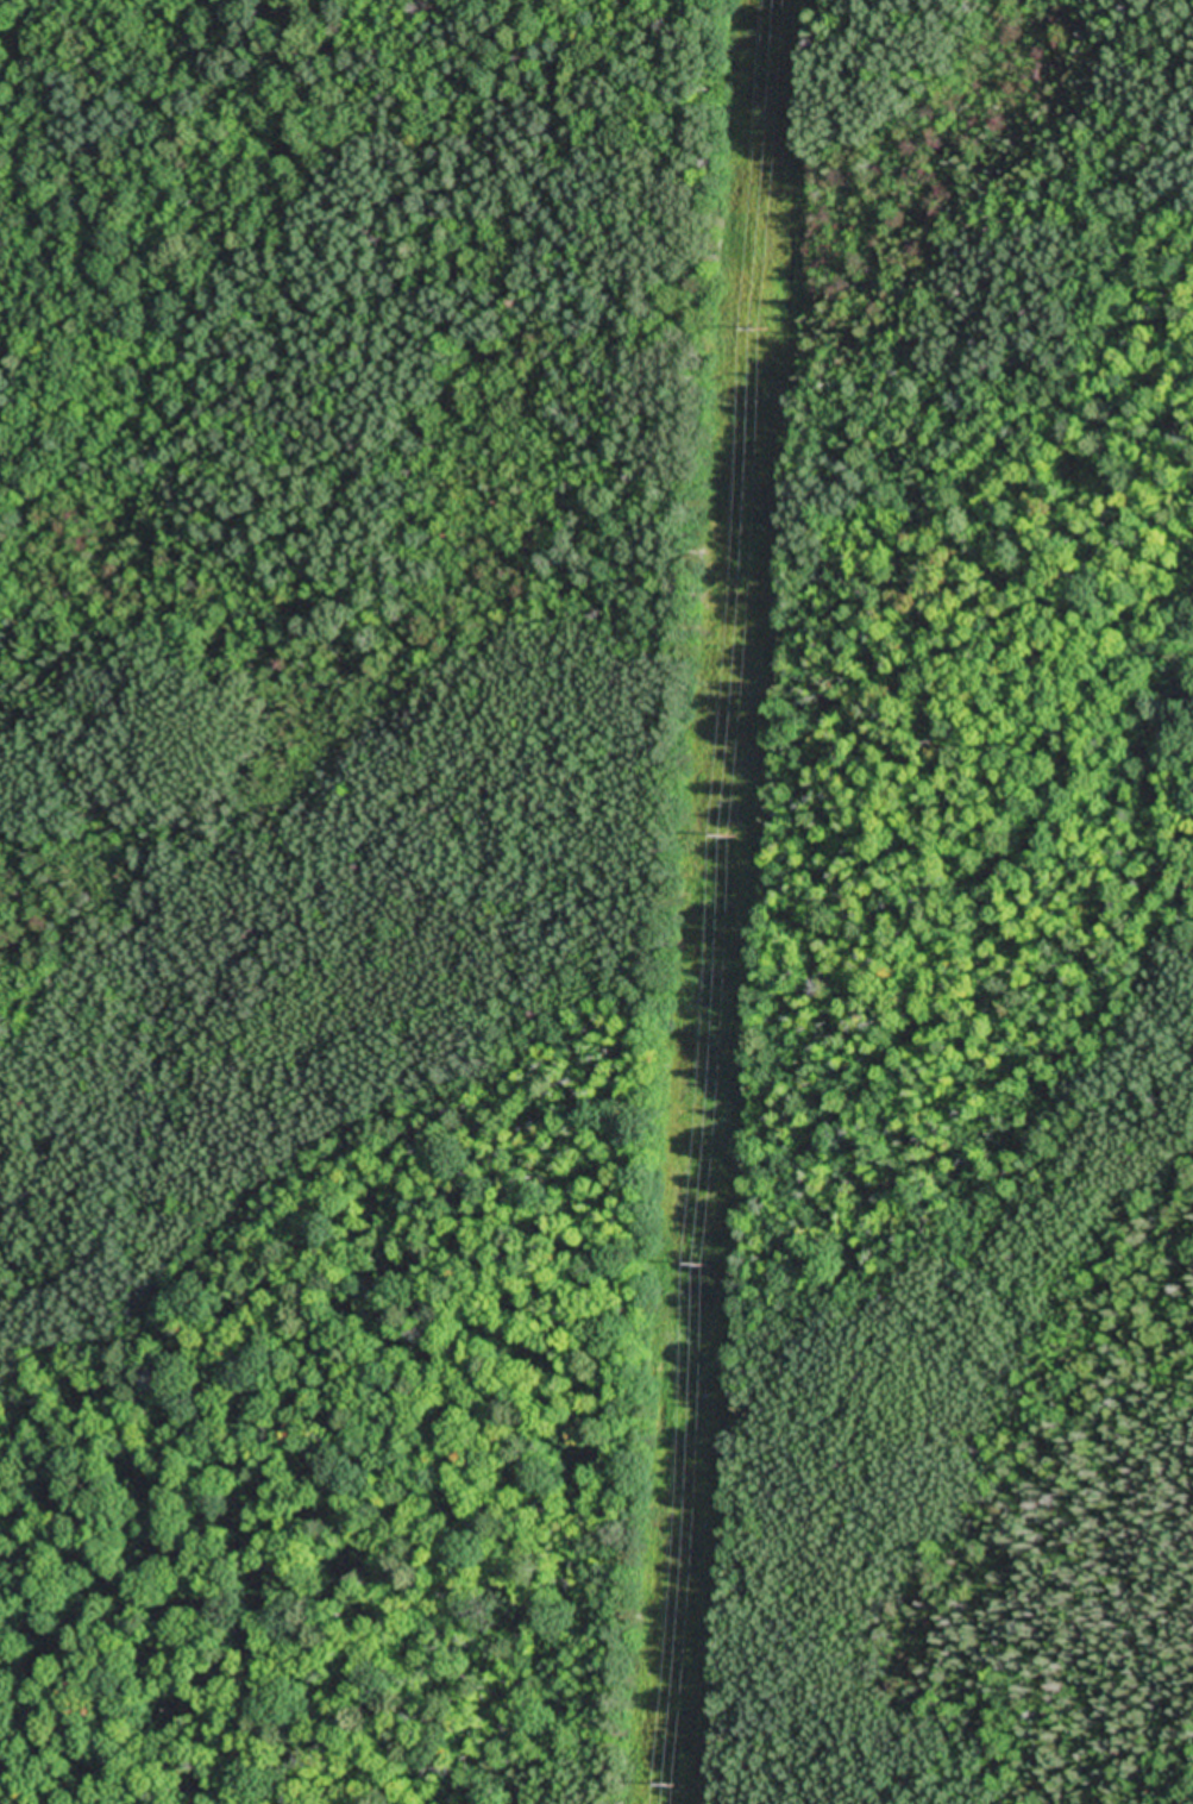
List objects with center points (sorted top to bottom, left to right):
power tower: (760, 330)
power tower: (730, 838)
power tower: (707, 1269)
power tower: (676, 1791)

